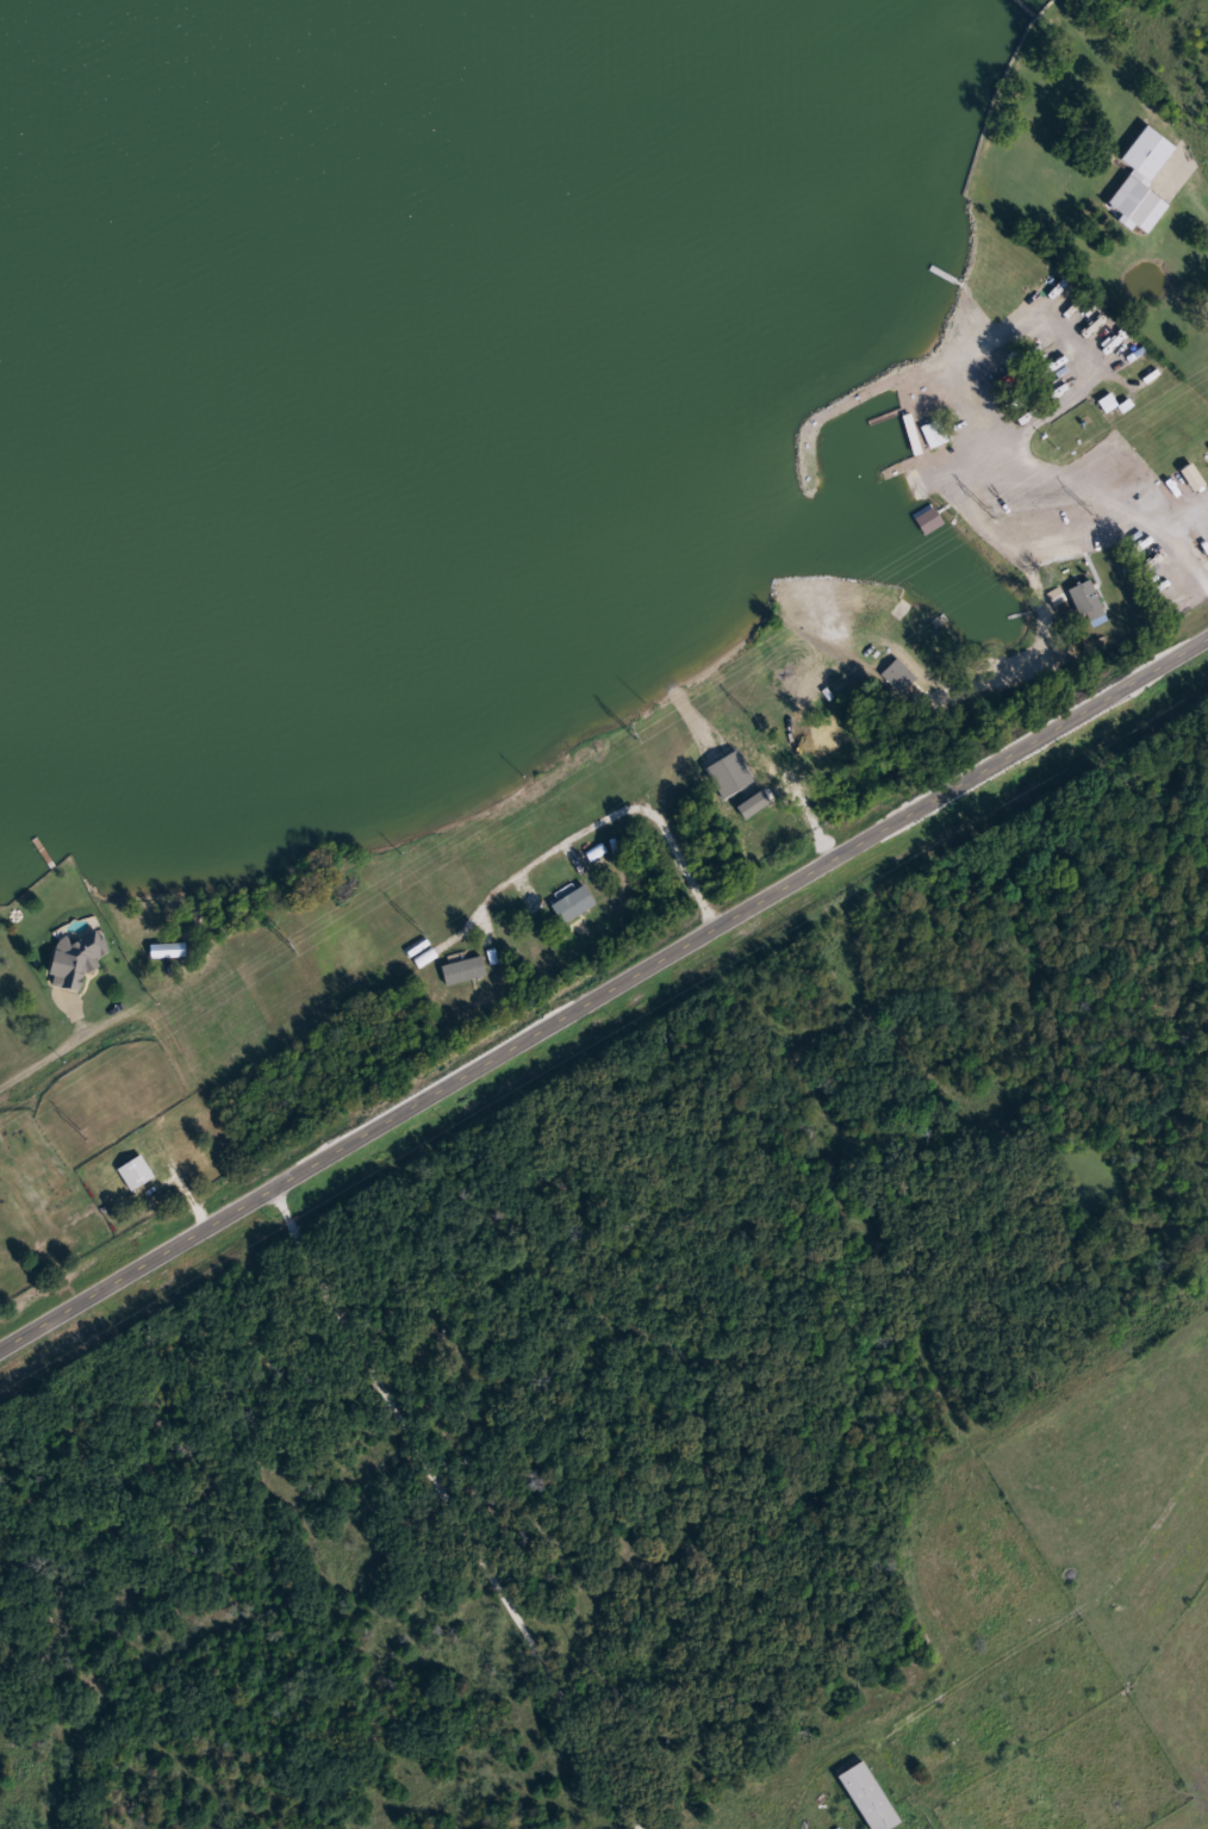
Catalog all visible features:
building: (1142, 179)
road: (959, 382)
building: (934, 434)
road: (963, 466)
road: (1108, 483)
road: (1193, 521)
building: (1085, 596)
building: (75, 960)
road: (605, 985)
road: (70, 1046)
building: (137, 1172)
road: (459, 1505)
road: (1067, 1616)
building: (939, 1761)
road: (811, 1773)
building: (871, 1797)

